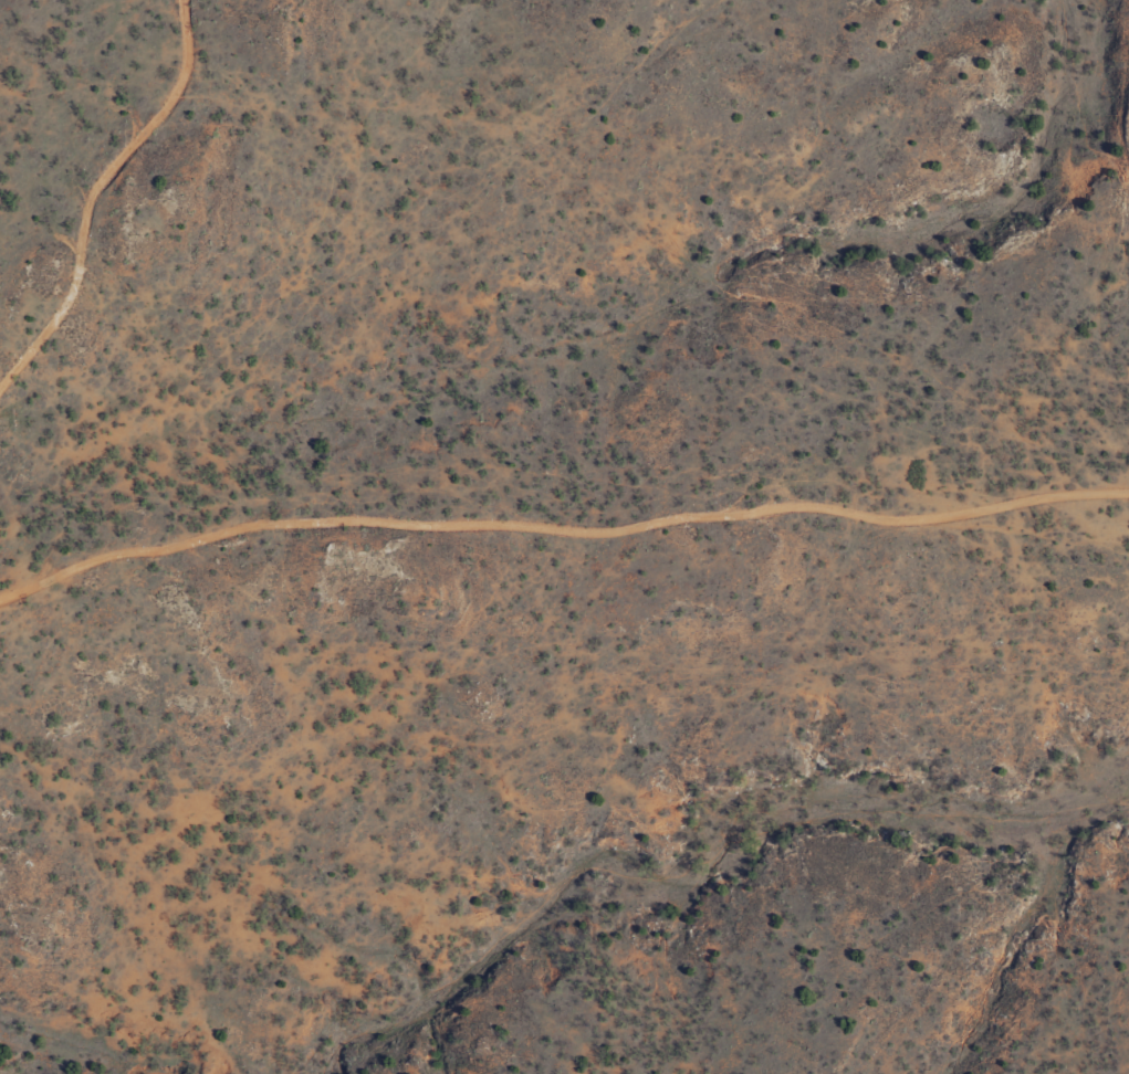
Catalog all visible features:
road: (560, 526)

